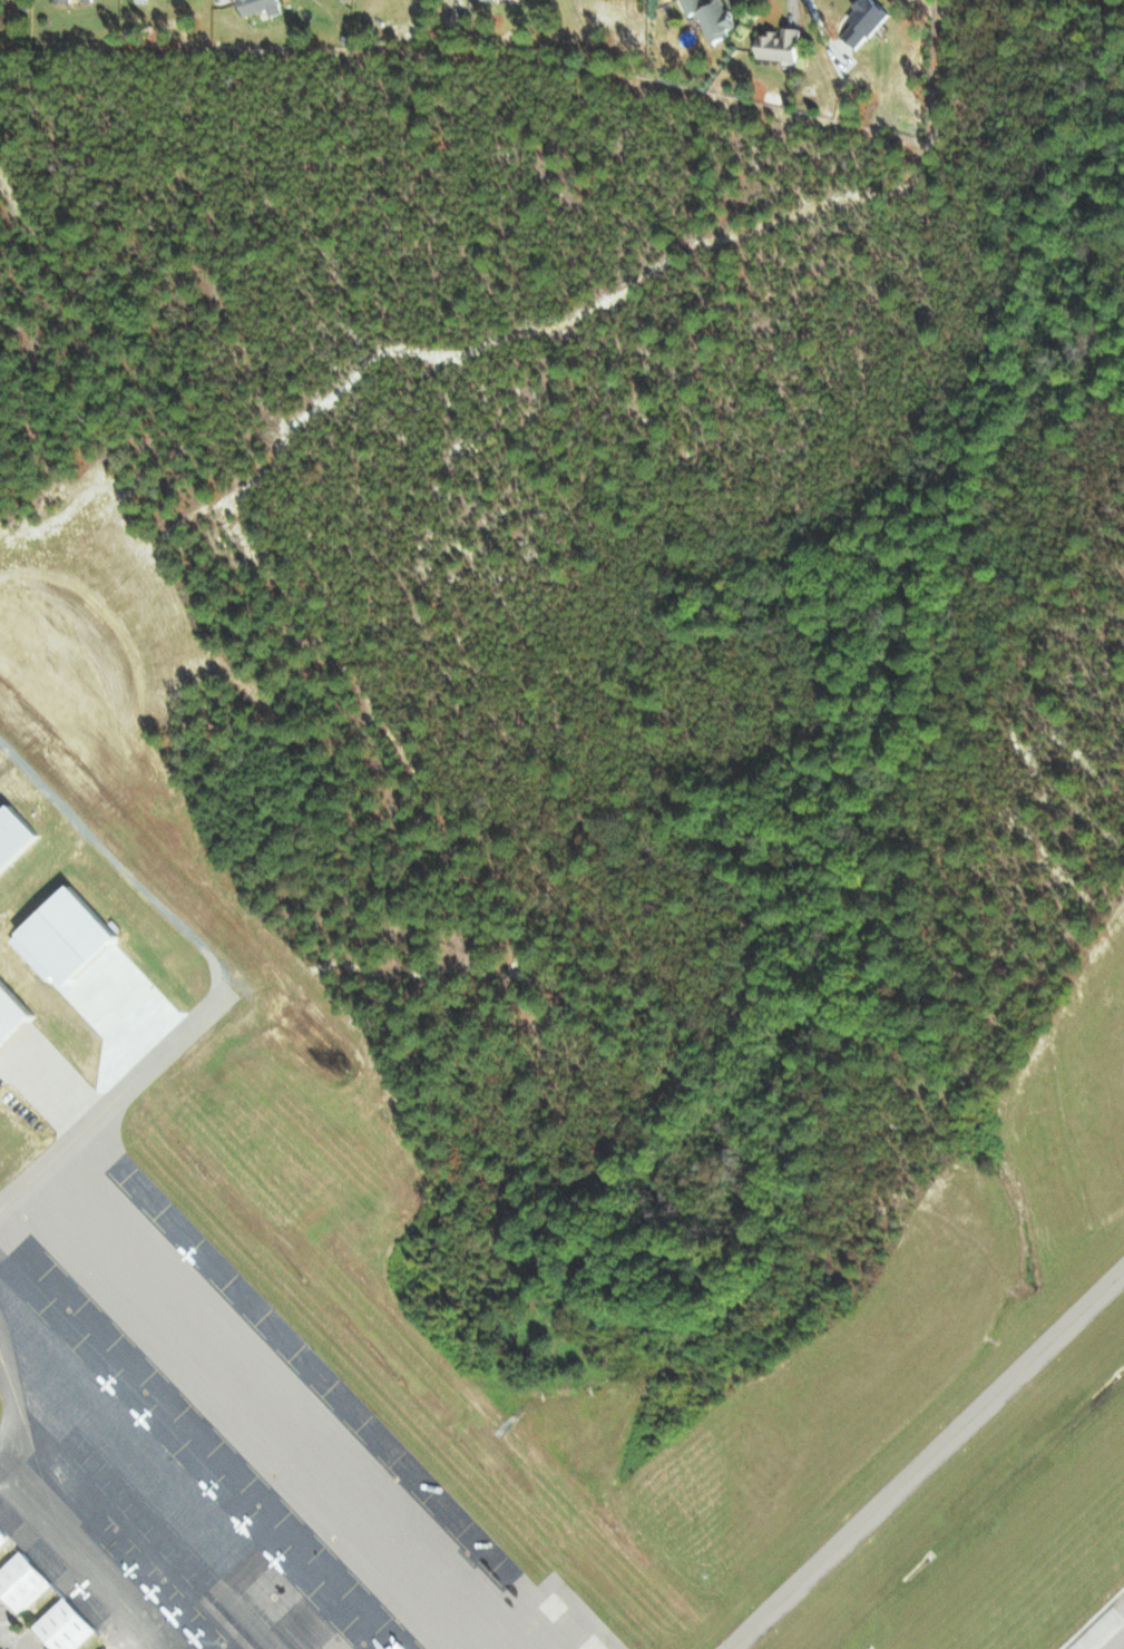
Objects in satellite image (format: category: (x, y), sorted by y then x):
building: (63, 0)
building: (144, 1)
building: (263, 7)
building: (715, 18)
road: (800, 18)
building: (868, 20)
building: (783, 45)
airport hangar: (17, 835)
building: (17, 835)
airport apron: (18, 839)
airport hangar: (12, 1012)
building: (13, 1013)
airport: (187, 1086)
airport apron: (205, 1442)
airport taxiway: (927, 1460)
airport hangar: (1, 1535)
building: (1, 1535)
airport hangar: (20, 1581)
building: (20, 1581)
airport hangar: (61, 1626)
building: (61, 1626)

